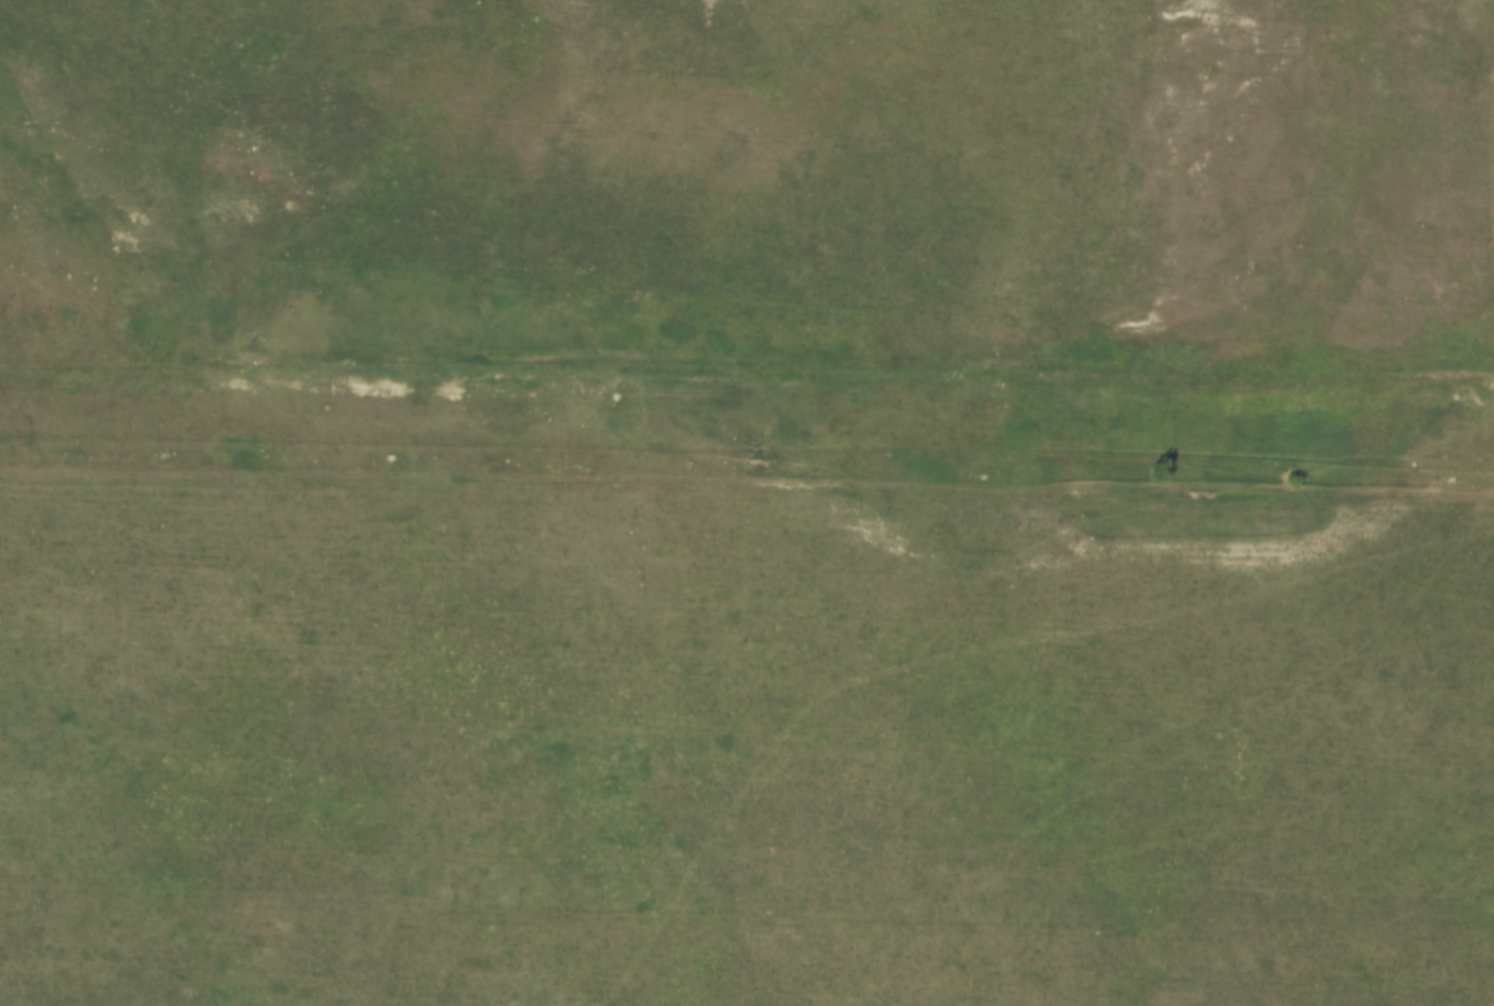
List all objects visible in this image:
road: (747, 490)

